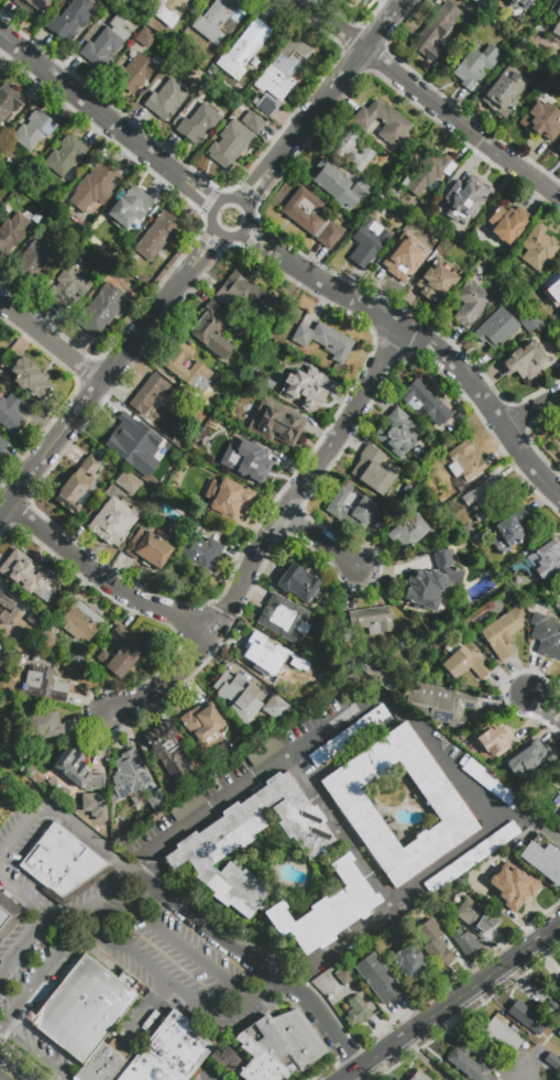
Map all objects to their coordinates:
building: (348, 0)
building: (455, 0)
building: (32, 6)
building: (519, 7)
building: (465, 8)
building: (171, 10)
building: (556, 18)
building: (215, 19)
building: (70, 20)
building: (471, 21)
building: (435, 33)
building: (145, 37)
building: (105, 44)
building: (243, 51)
building: (254, 62)
building: (475, 67)
building: (136, 73)
building: (279, 77)
building: (504, 94)
building: (165, 99)
road: (428, 100)
building: (9, 101)
road: (321, 101)
building: (542, 119)
road: (107, 120)
building: (252, 122)
building: (384, 122)
building: (199, 123)
building: (33, 131)
building: (230, 144)
building: (558, 149)
building: (351, 150)
building: (558, 153)
building: (66, 156)
building: (428, 173)
building: (339, 185)
building: (95, 186)
building: (465, 196)
building: (129, 207)
building: (311, 218)
building: (506, 225)
road: (213, 229)
building: (12, 232)
building: (460, 234)
building: (157, 236)
building: (366, 243)
building: (539, 248)
building: (403, 258)
building: (31, 261)
building: (437, 281)
building: (552, 285)
building: (70, 292)
building: (244, 298)
building: (472, 303)
building: (101, 310)
building: (529, 321)
building: (496, 328)
building: (540, 329)
building: (211, 331)
building: (323, 341)
road: (420, 341)
road: (50, 343)
building: (6, 350)
building: (525, 361)
building: (174, 368)
road: (108, 373)
building: (29, 379)
building: (306, 388)
building: (149, 394)
building: (425, 402)
building: (10, 412)
road: (532, 412)
building: (459, 418)
building: (276, 423)
building: (559, 432)
building: (218, 433)
building: (239, 433)
building: (399, 433)
building: (123, 437)
building: (2, 446)
building: (246, 457)
building: (464, 461)
building: (156, 463)
building: (373, 471)
building: (152, 478)
building: (128, 482)
building: (76, 486)
building: (484, 499)
building: (228, 500)
building: (351, 506)
building: (113, 522)
building: (408, 531)
road: (266, 533)
building: (508, 534)
road: (321, 544)
building: (149, 547)
building: (199, 557)
building: (541, 561)
building: (25, 572)
road: (101, 578)
building: (431, 582)
building: (298, 583)
building: (558, 602)
building: (4, 608)
building: (36, 618)
building: (279, 619)
building: (371, 620)
building: (80, 623)
building: (503, 632)
building: (546, 636)
building: (46, 640)
building: (121, 653)
building: (264, 658)
building: (76, 661)
building: (463, 662)
building: (43, 685)
building: (239, 691)
building: (441, 700)
road: (546, 701)
building: (274, 708)
building: (201, 721)
building: (44, 727)
building: (448, 733)
building: (350, 738)
building: (494, 740)
building: (166, 749)
building: (264, 752)
road: (442, 754)
building: (528, 759)
building: (74, 764)
building: (131, 773)
road: (264, 773)
road: (301, 776)
road: (18, 777)
building: (98, 782)
building: (491, 783)
building: (155, 798)
crop: (8, 803)
building: (187, 806)
building: (355, 809)
building: (558, 821)
road: (535, 825)
road: (22, 828)
road: (87, 831)
road: (352, 850)
road: (450, 858)
building: (471, 858)
building: (543, 858)
building: (201, 864)
building: (63, 865)
road: (152, 865)
road: (144, 894)
building: (503, 898)
road: (100, 899)
road: (24, 901)
building: (9, 915)
building: (475, 917)
building: (430, 921)
road: (72, 936)
road: (351, 938)
road: (532, 943)
building: (468, 945)
road: (24, 951)
building: (438, 953)
road: (260, 959)
building: (410, 967)
road: (297, 975)
building: (343, 975)
building: (377, 978)
road: (36, 982)
building: (353, 988)
building: (558, 988)
road: (268, 989)
building: (537, 993)
road: (251, 1000)
road: (151, 1004)
building: (83, 1006)
building: (344, 1007)
building: (356, 1012)
road: (431, 1015)
building: (527, 1017)
building: (559, 1034)
building: (503, 1036)
building: (278, 1046)
road: (479, 1046)
building: (556, 1050)
road: (34, 1052)
building: (168, 1052)
building: (226, 1059)
building: (552, 1061)
building: (105, 1062)
building: (469, 1066)
road: (1, 1067)
road: (10, 1071)
road: (350, 1074)
road: (206, 1077)
building: (419, 1077)
road: (351, 1078)

